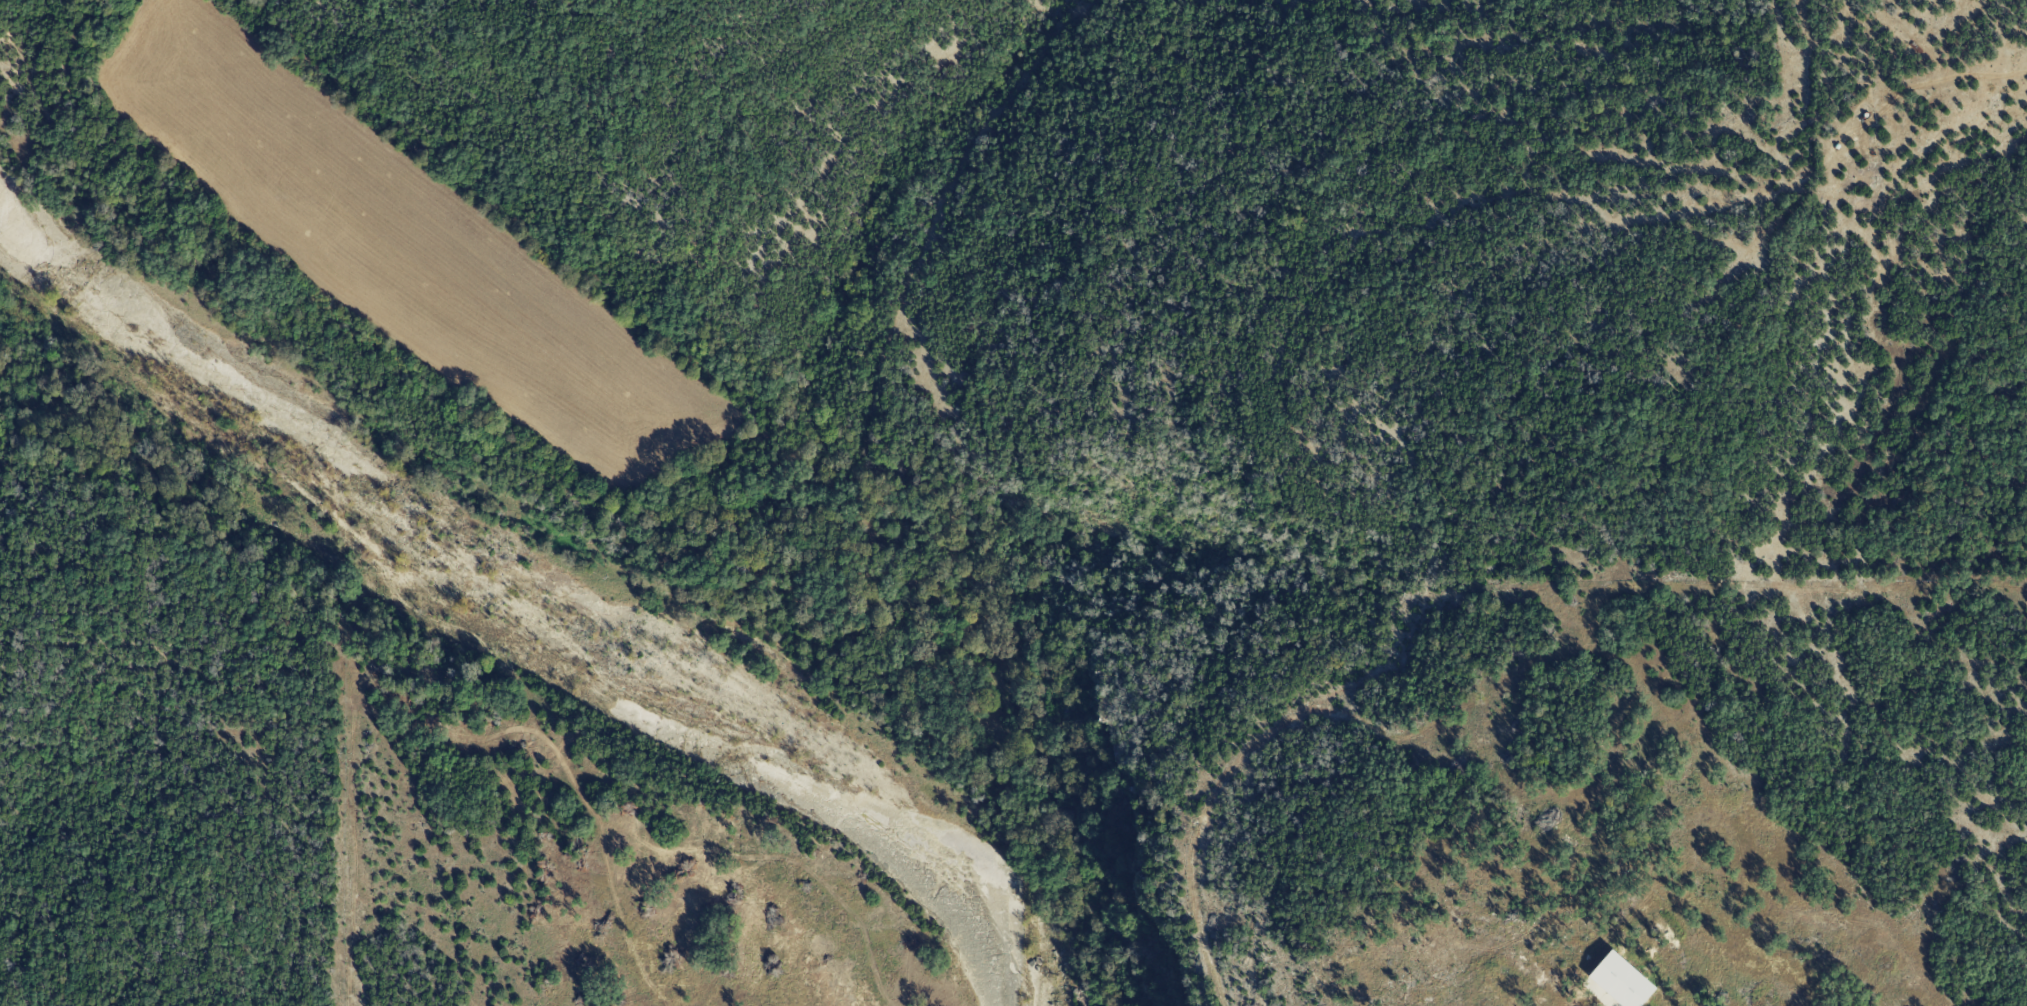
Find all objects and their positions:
river: (539, 583)
building: (1617, 983)

